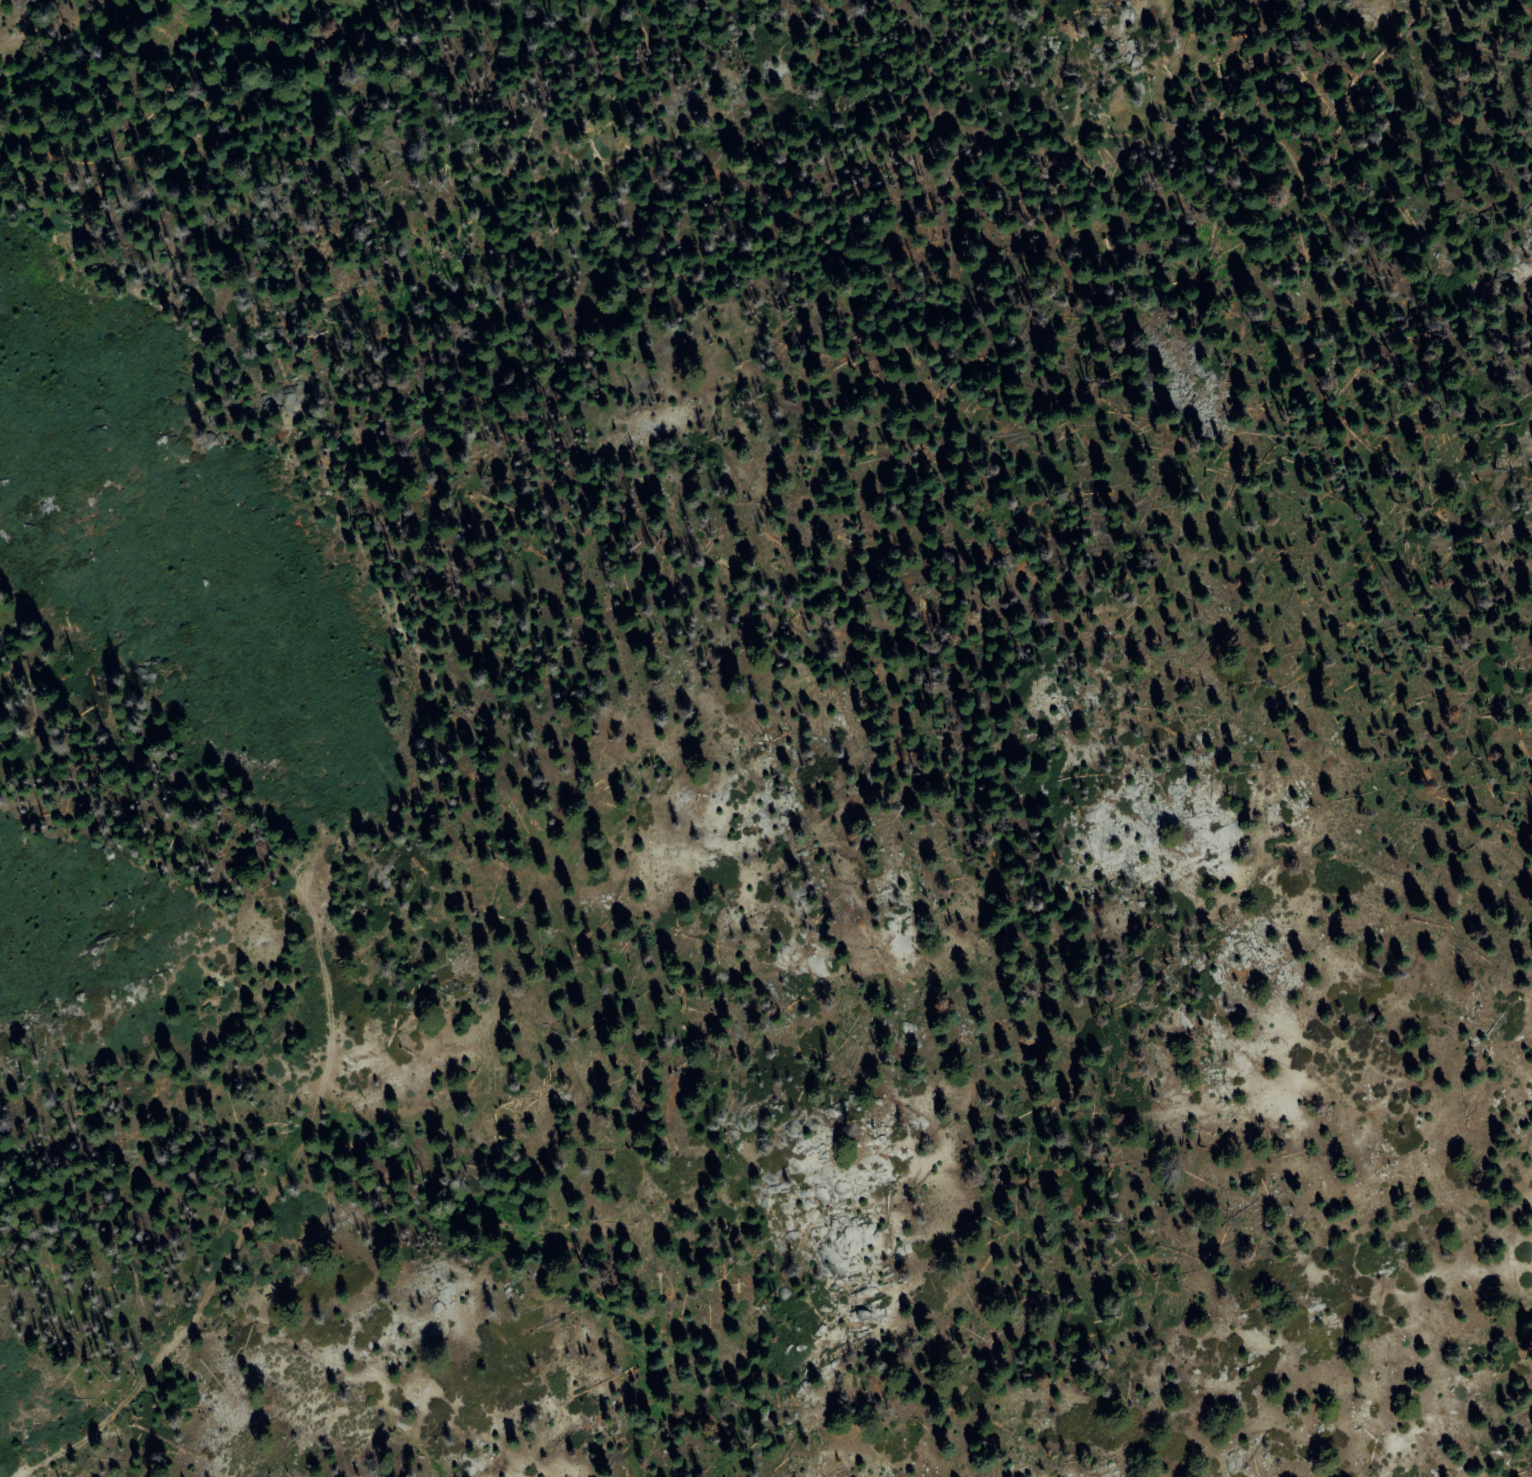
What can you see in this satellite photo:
road: (254, 1223)

